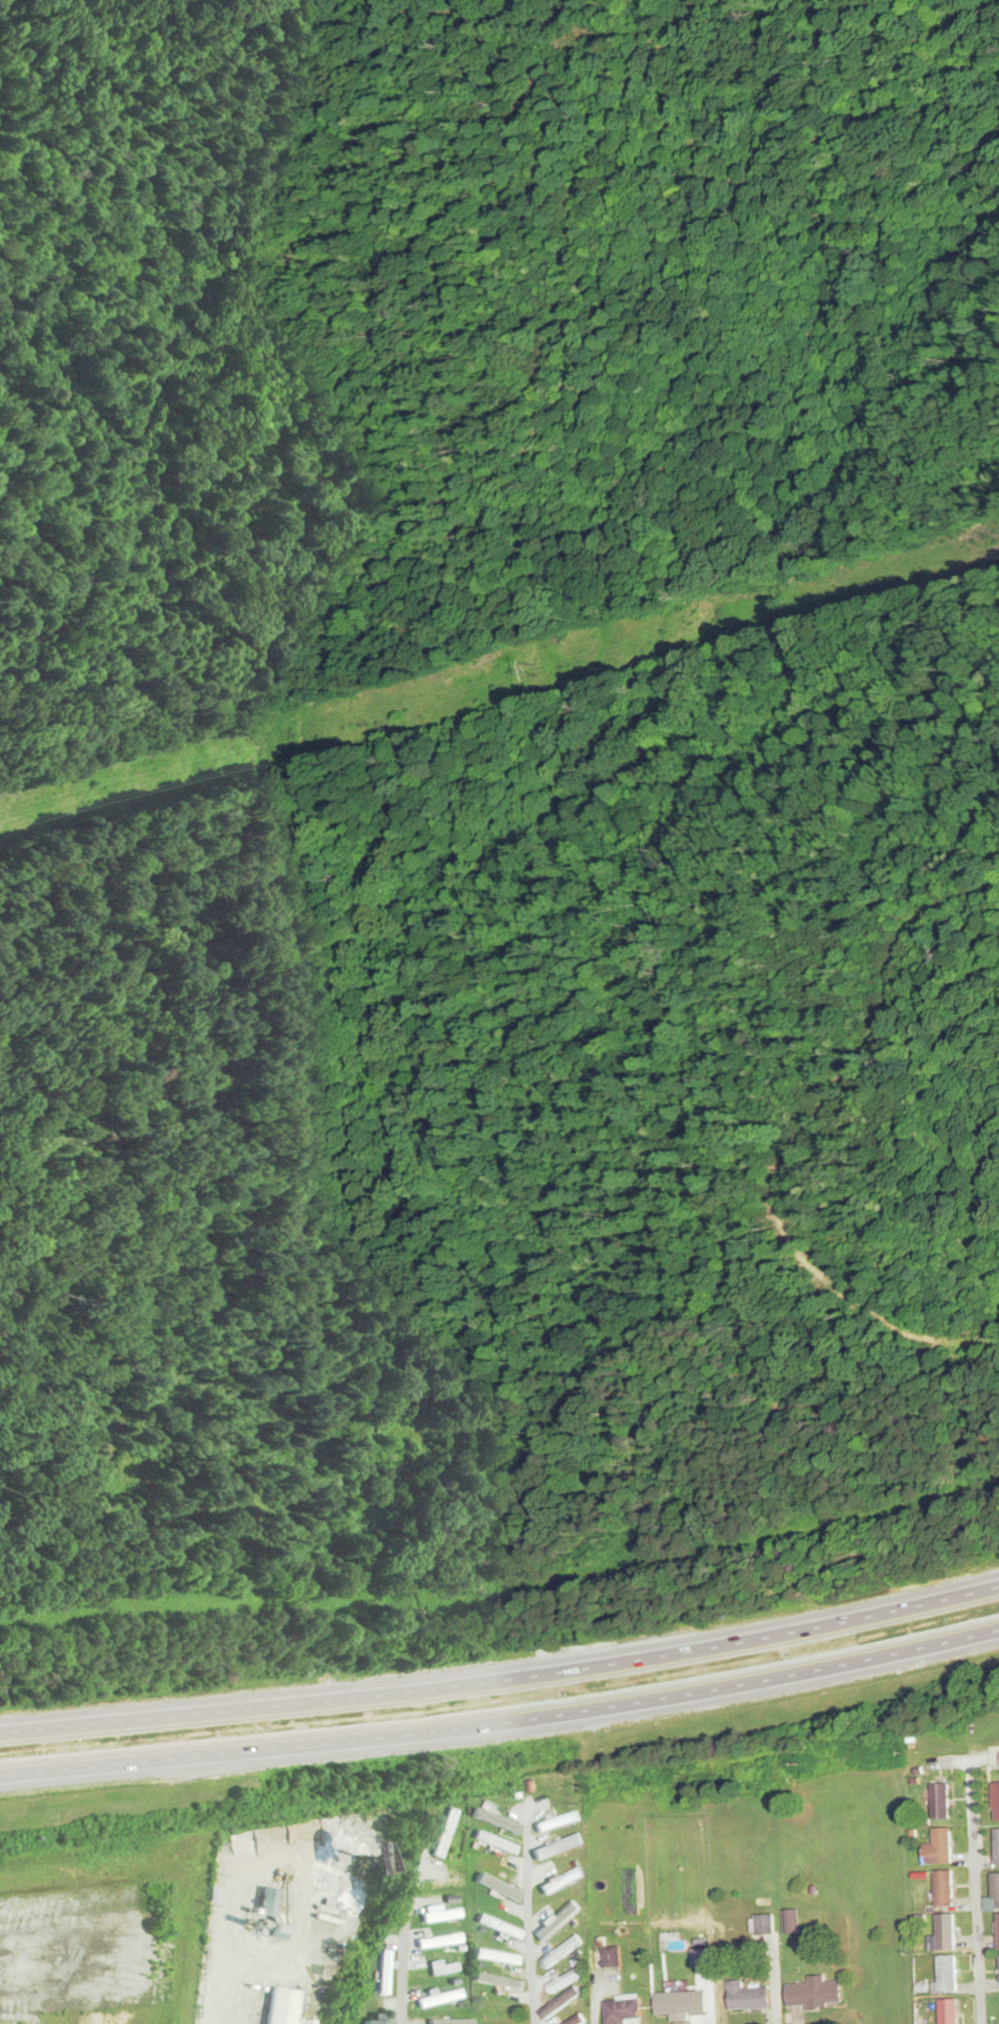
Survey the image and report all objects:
road: (584, 33)
road: (153, 69)
road: (796, 1140)
road: (502, 1679)
road: (502, 1726)
building: (941, 1801)
building: (996, 1801)
building: (557, 1821)
building: (444, 1832)
building: (495, 1841)
building: (997, 1846)
building: (939, 1847)
building: (445, 1879)
building: (561, 1880)
building: (497, 1887)
building: (944, 1887)
building: (995, 1890)
road: (972, 1893)
building: (266, 1903)
building: (439, 1913)
building: (557, 1919)
building: (792, 1921)
road: (531, 1922)
building: (765, 1924)
building: (498, 1926)
building: (946, 1931)
building: (998, 1931)
road: (404, 1938)
building: (440, 1939)
building: (561, 1950)
building: (496, 1956)
building: (607, 1956)
building: (442, 1967)
building: (384, 1971)
building: (947, 1974)
building: (494, 1979)
building: (565, 1979)
building: (815, 1993)
building: (749, 1996)
building: (439, 1997)
building: (560, 2002)
building: (281, 2006)
building: (623, 2011)
building: (949, 2011)
building: (576, 2019)
building: (458, 2020)
building: (377, 2022)

